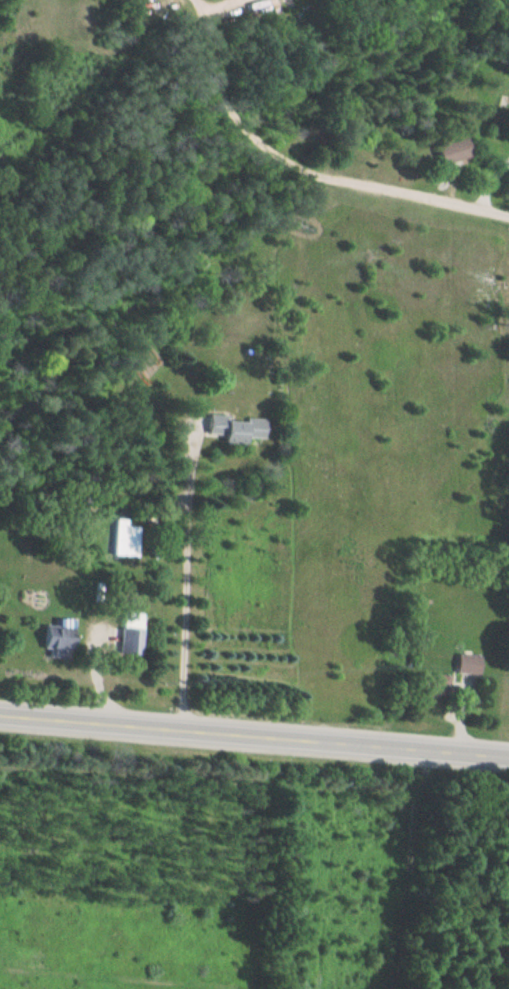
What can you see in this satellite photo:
road: (200, 4)
building: (449, 152)
road: (306, 169)
building: (234, 429)
building: (131, 636)
building: (55, 637)
building: (464, 664)
building: (429, 684)
road: (254, 737)

